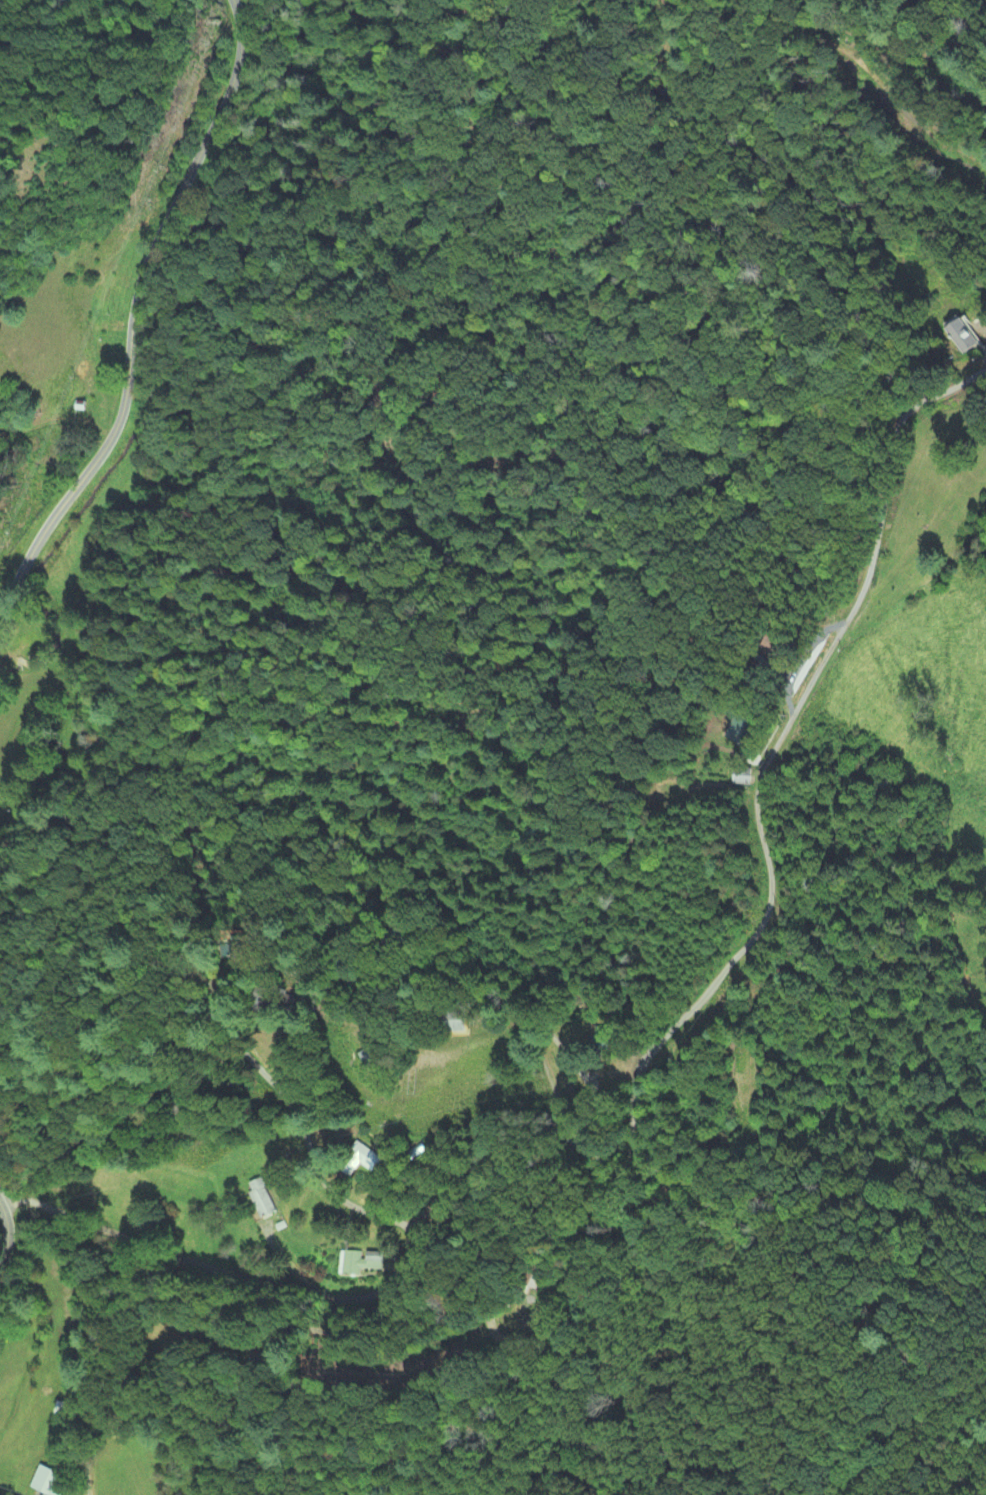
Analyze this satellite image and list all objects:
road: (131, 313)
building: (960, 335)
road: (283, 967)
building: (450, 1024)
building: (361, 1160)
building: (261, 1202)
road: (619, 1209)
road: (2, 1238)
building: (361, 1262)
road: (289, 1265)
road: (109, 1370)
building: (49, 1481)

